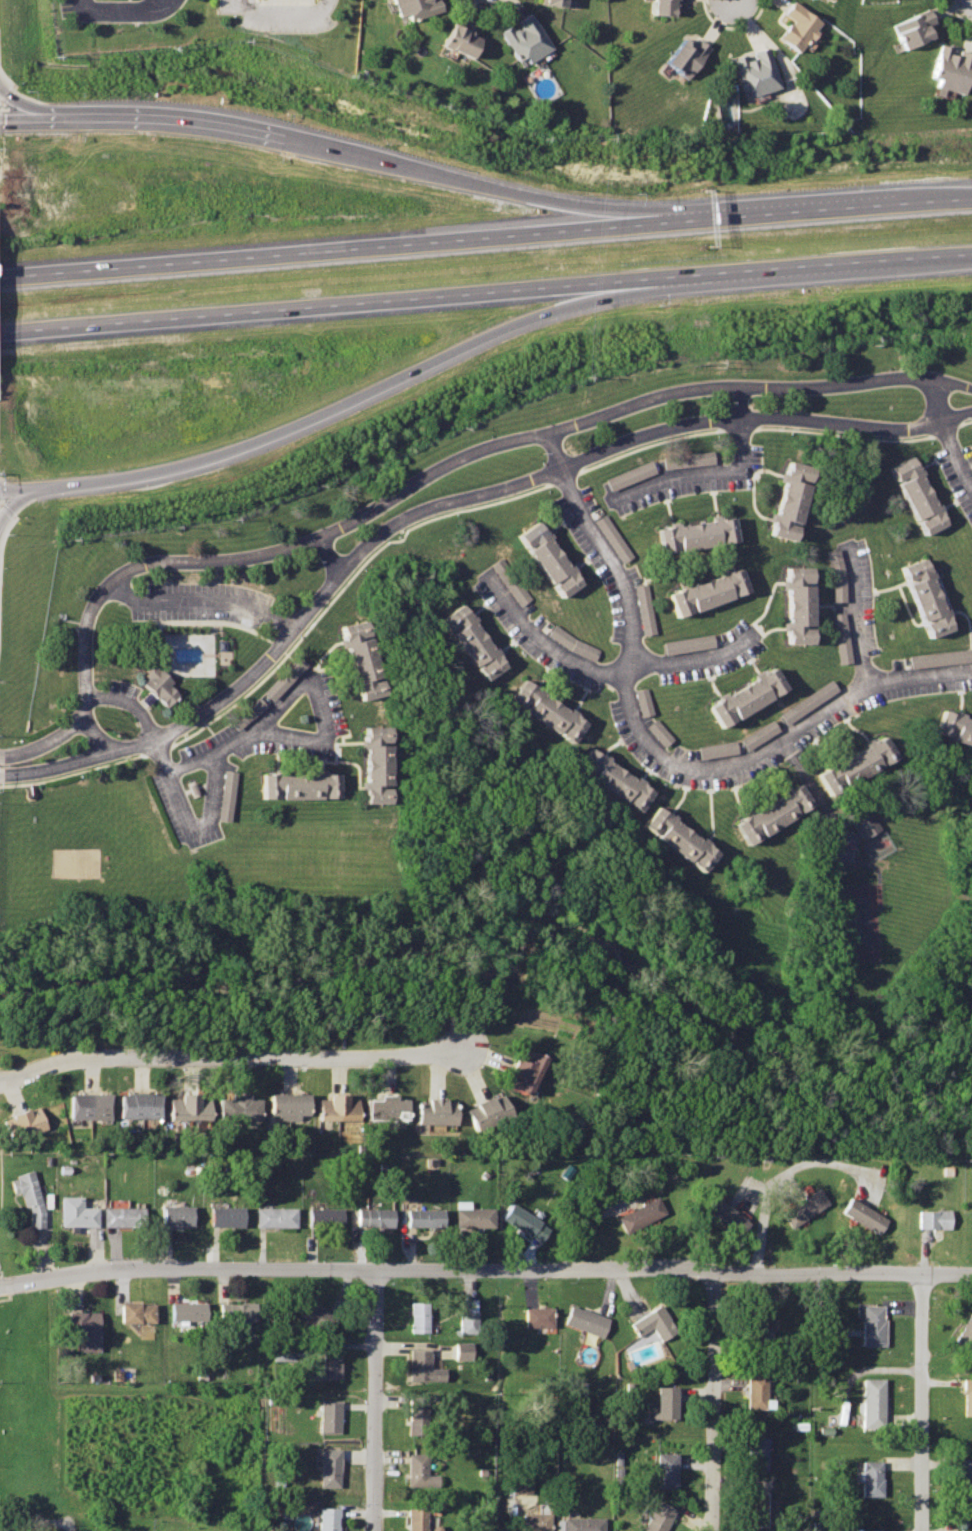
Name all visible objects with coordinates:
building: (550, 2)
road: (239, 3)
building: (661, 6)
road: (279, 7)
building: (416, 7)
road: (116, 14)
building: (796, 26)
building: (914, 28)
building: (523, 39)
building: (459, 40)
building: (686, 57)
building: (952, 69)
building: (755, 73)
road: (12, 105)
road: (13, 119)
road: (156, 119)
road: (489, 180)
road: (486, 238)
road: (485, 291)
road: (327, 410)
road: (947, 435)
building: (688, 460)
road: (719, 472)
building: (630, 475)
road: (419, 477)
road: (14, 497)
building: (918, 498)
building: (789, 501)
road: (447, 505)
building: (697, 534)
building: (613, 538)
road: (329, 555)
building: (549, 560)
building: (837, 575)
building: (512, 585)
building: (707, 594)
building: (927, 598)
road: (201, 601)
building: (799, 607)
building: (643, 609)
road: (857, 614)
building: (841, 637)
building: (472, 642)
road: (543, 643)
building: (572, 643)
building: (687, 644)
building: (939, 658)
building: (365, 660)
road: (693, 660)
building: (285, 678)
building: (160, 685)
building: (746, 696)
building: (642, 701)
building: (808, 701)
road: (318, 708)
building: (544, 710)
building: (955, 727)
building: (659, 732)
building: (758, 734)
road: (96, 735)
road: (155, 742)
building: (971, 746)
road: (215, 749)
building: (716, 749)
road: (653, 753)
building: (375, 763)
building: (858, 763)
building: (617, 780)
building: (299, 785)
road: (209, 795)
building: (225, 795)
building: (772, 813)
building: (864, 822)
building: (680, 839)
road: (230, 1058)
building: (528, 1063)
building: (520, 1079)
road: (6, 1088)
road: (15, 1095)
building: (151, 1105)
building: (80, 1106)
building: (101, 1106)
building: (130, 1106)
building: (278, 1106)
building: (297, 1106)
building: (180, 1108)
building: (199, 1108)
building: (229, 1108)
building: (249, 1108)
building: (327, 1108)
building: (346, 1108)
building: (376, 1109)
building: (396, 1109)
building: (496, 1109)
building: (426, 1111)
building: (446, 1112)
building: (479, 1116)
building: (33, 1121)
building: (15, 1127)
road: (787, 1172)
road: (788, 1184)
road: (751, 1191)
building: (28, 1197)
building: (47, 1201)
building: (802, 1208)
building: (75, 1213)
building: (639, 1215)
building: (725, 1215)
building: (862, 1215)
building: (471, 1216)
building: (122, 1217)
building: (177, 1217)
building: (224, 1217)
building: (274, 1217)
building: (373, 1217)
building: (324, 1218)
building: (423, 1218)
building: (931, 1219)
building: (971, 1220)
building: (524, 1222)
road: (485, 1269)
road: (4, 1297)
building: (135, 1310)
building: (186, 1310)
building: (235, 1312)
building: (467, 1314)
building: (314, 1315)
building: (536, 1315)
building: (419, 1316)
building: (584, 1320)
building: (755, 1322)
building: (651, 1323)
building: (869, 1326)
building: (84, 1327)
building: (964, 1333)
building: (464, 1351)
building: (328, 1364)
building: (423, 1365)
building: (755, 1393)
building: (966, 1397)
road: (375, 1400)
building: (664, 1401)
road: (714, 1401)
road: (919, 1402)
building: (869, 1404)
building: (329, 1415)
building: (418, 1416)
building: (755, 1450)
building: (330, 1466)
building: (665, 1468)
building: (420, 1470)
building: (964, 1478)
building: (868, 1479)
building: (521, 1484)
building: (754, 1507)
building: (656, 1515)
building: (329, 1518)
building: (416, 1519)
road: (35, 1521)
building: (536, 1521)
building: (579, 1523)
building: (863, 1529)
building: (964, 1529)

